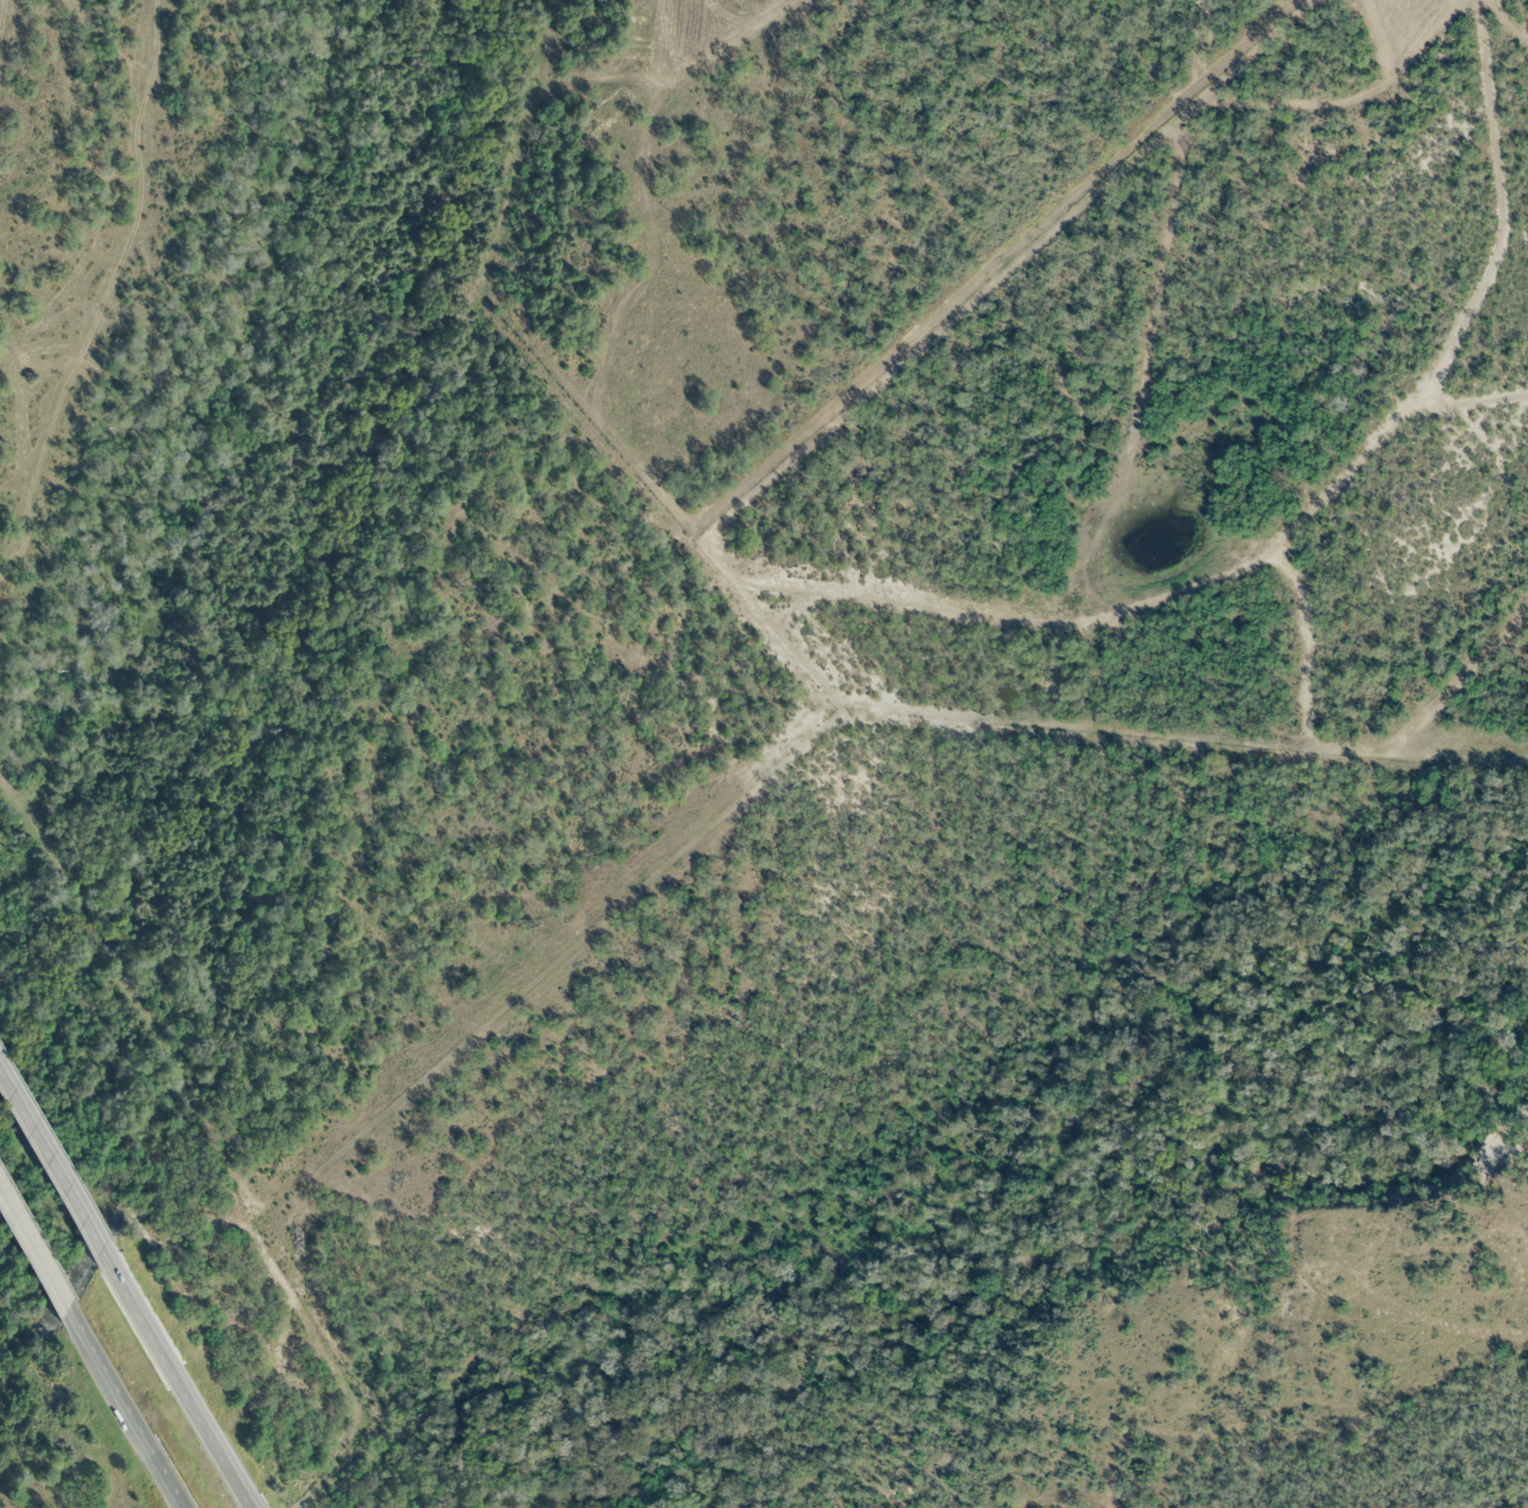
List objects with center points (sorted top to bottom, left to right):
river: (314, 560)
road: (52, 1160)
road: (33, 1253)
road: (178, 1379)
road: (125, 1409)

